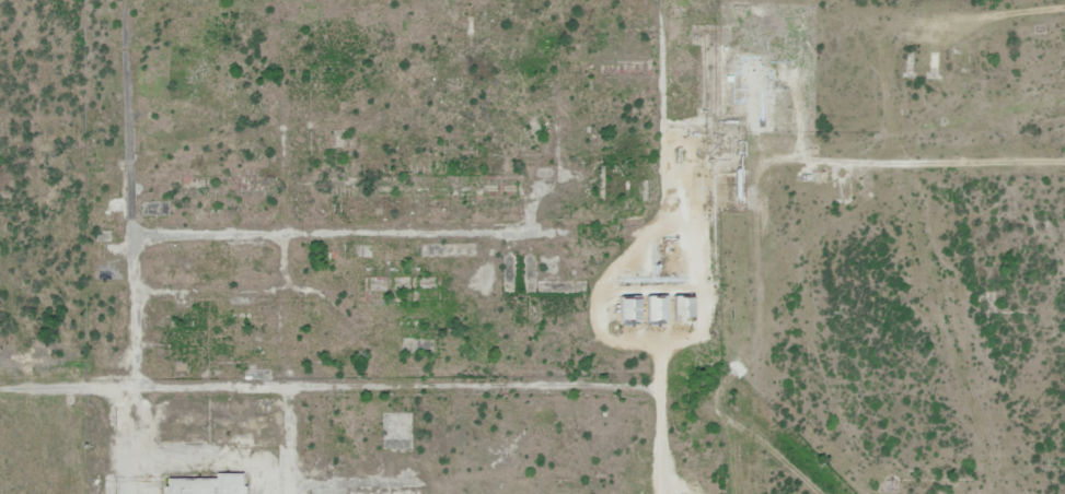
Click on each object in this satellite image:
building: (910, 64)
building: (673, 308)
building: (648, 309)
building: (606, 316)
building: (599, 410)
building: (396, 432)
building: (201, 485)

